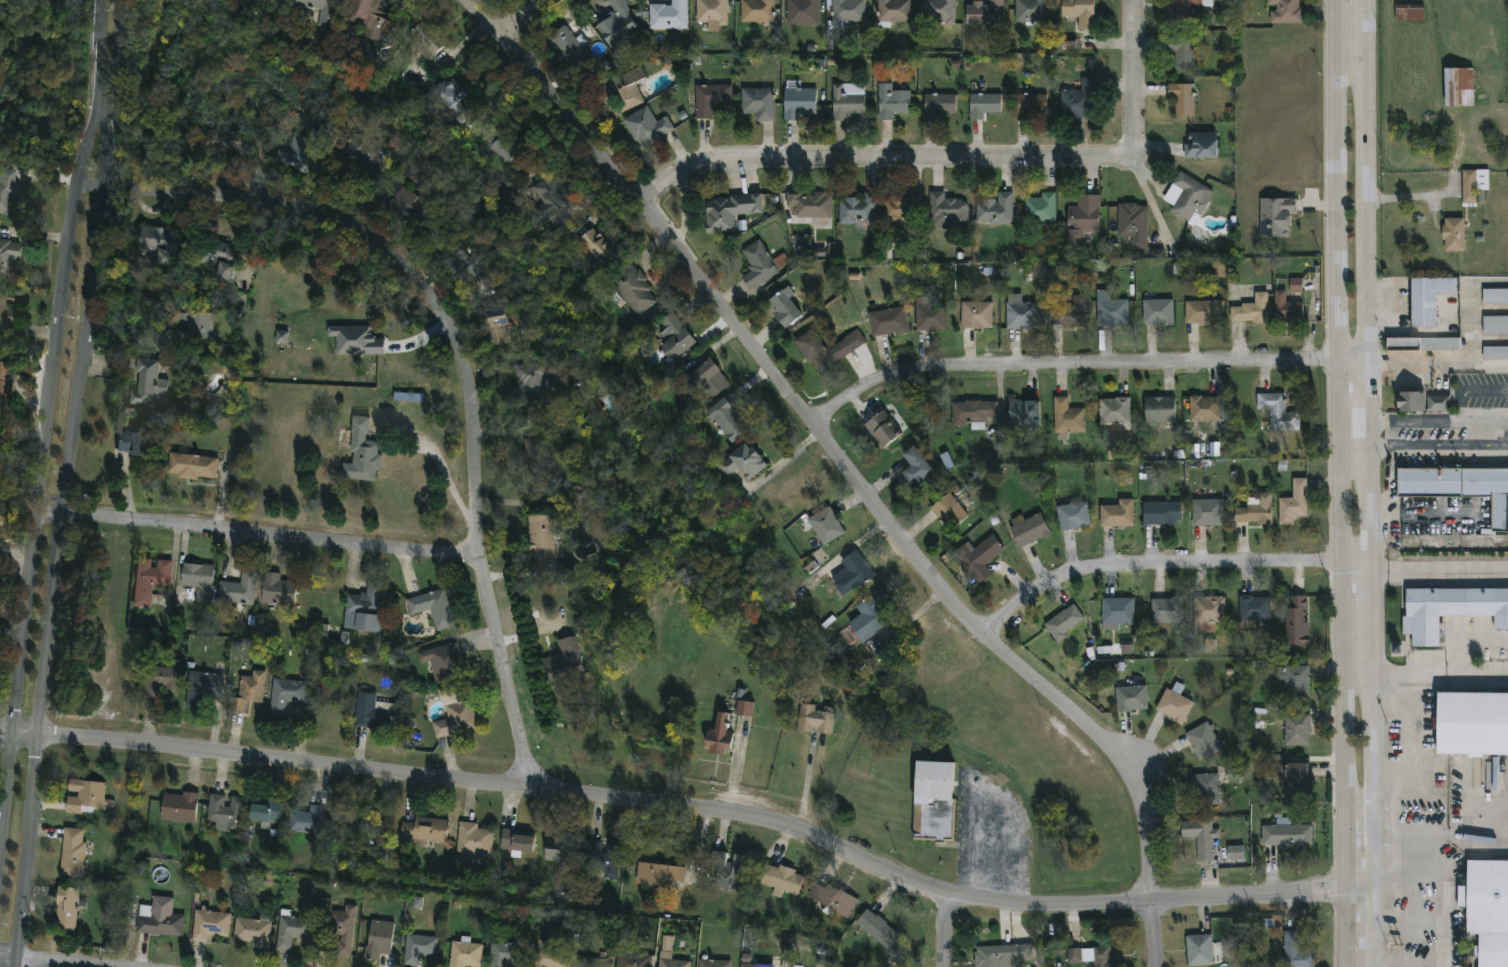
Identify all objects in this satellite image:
building: (259, 0)
building: (318, 9)
building: (756, 10)
building: (939, 10)
building: (711, 11)
building: (799, 11)
building: (891, 11)
building: (1028, 11)
building: (1079, 11)
building: (1285, 11)
building: (1408, 11)
building: (846, 12)
building: (984, 12)
building: (1186, 12)
building: (665, 15)
road: (518, 16)
building: (369, 17)
building: (618, 25)
building: (427, 36)
building: (569, 45)
building: (1182, 50)
road: (1138, 76)
building: (1458, 85)
building: (621, 88)
building: (447, 92)
building: (891, 97)
building: (1182, 97)
building: (710, 98)
building: (847, 99)
building: (1077, 99)
building: (797, 100)
building: (758, 102)
building: (982, 103)
building: (937, 104)
building: (1028, 104)
building: (646, 126)
building: (223, 139)
building: (1199, 144)
building: (507, 146)
building: (352, 148)
building: (289, 149)
road: (879, 157)
building: (1473, 184)
building: (9, 189)
building: (550, 194)
building: (1187, 196)
building: (410, 200)
building: (810, 206)
building: (857, 208)
building: (903, 208)
building: (947, 208)
building: (995, 209)
road: (684, 210)
building: (730, 210)
building: (1040, 210)
building: (1275, 215)
building: (1082, 221)
building: (1132, 224)
building: (1453, 233)
building: (151, 243)
building: (600, 244)
building: (9, 255)
building: (213, 258)
building: (456, 262)
building: (761, 264)
road: (654, 280)
building: (1296, 285)
building: (633, 289)
building: (1494, 295)
building: (1427, 298)
building: (1287, 308)
building: (782, 309)
building: (1110, 309)
building: (1252, 309)
building: (1157, 310)
building: (8, 311)
building: (1204, 311)
building: (1074, 312)
building: (975, 314)
building: (929, 315)
building: (1020, 315)
building: (886, 321)
building: (1495, 324)
building: (492, 325)
building: (193, 326)
building: (676, 334)
building: (282, 337)
building: (356, 340)
building: (1422, 344)
road: (462, 345)
building: (821, 349)
building: (1495, 352)
road: (1492, 362)
road: (1475, 363)
road: (1082, 366)
building: (6, 381)
building: (709, 382)
building: (146, 383)
building: (530, 386)
building: (1411, 401)
building: (1438, 403)
building: (1159, 409)
building: (1206, 409)
building: (972, 412)
building: (1023, 412)
building: (1114, 412)
building: (1278, 412)
building: (1066, 418)
building: (728, 420)
road: (1454, 422)
building: (881, 429)
road: (45, 433)
building: (137, 443)
road: (1438, 446)
building: (360, 452)
road: (784, 460)
building: (742, 462)
building: (534, 463)
building: (189, 466)
building: (914, 467)
road: (444, 470)
road: (848, 473)
road: (66, 483)
road: (1339, 483)
road: (1370, 483)
building: (1460, 487)
building: (1293, 502)
building: (1255, 510)
building: (947, 511)
building: (1161, 512)
building: (1207, 512)
building: (1117, 513)
building: (1072, 516)
road: (1424, 517)
building: (825, 525)
building: (1027, 529)
road: (258, 534)
building: (539, 537)
building: (975, 560)
road: (1166, 563)
road: (1439, 568)
building: (850, 573)
building: (148, 579)
building: (198, 583)
building: (237, 589)
building: (277, 590)
building: (364, 606)
building: (432, 608)
building: (1254, 608)
building: (1169, 610)
building: (1450, 610)
building: (1121, 612)
building: (1208, 612)
building: (864, 619)
building: (1063, 622)
building: (1295, 622)
building: (441, 662)
building: (562, 662)
road: (1448, 672)
building: (162, 680)
building: (1294, 680)
building: (200, 686)
building: (246, 691)
building: (284, 695)
building: (449, 696)
building: (1130, 698)
building: (1174, 704)
building: (745, 708)
building: (371, 711)
building: (813, 719)
building: (454, 720)
building: (1471, 724)
building: (1296, 730)
building: (717, 736)
building: (1202, 741)
road: (1405, 742)
road: (1132, 764)
building: (1237, 773)
building: (1294, 774)
road: (806, 785)
building: (1205, 789)
building: (85, 796)
building: (932, 803)
road: (695, 806)
building: (177, 807)
building: (263, 812)
building: (223, 813)
building: (305, 820)
building: (347, 820)
building: (424, 831)
road: (1444, 835)
building: (1286, 836)
building: (1200, 837)
building: (472, 839)
building: (515, 842)
building: (557, 849)
building: (1236, 852)
building: (73, 853)
building: (601, 858)
building: (727, 869)
building: (658, 876)
building: (781, 880)
road: (1445, 887)
building: (831, 899)
building: (65, 908)
building: (1487, 910)
road: (1410, 920)
building: (160, 922)
building: (1266, 924)
building: (208, 925)
building: (876, 928)
building: (341, 929)
building: (290, 930)
building: (252, 931)
road: (949, 931)
building: (377, 940)
building: (417, 949)
building: (1199, 949)
building: (1295, 952)
building: (463, 953)
building: (503, 954)
building: (546, 955)
building: (1001, 955)
building: (1090, 955)
building: (629, 960)
road: (43, 961)
building: (670, 962)
building: (713, 962)
building: (746, 964)
building: (796, 965)

